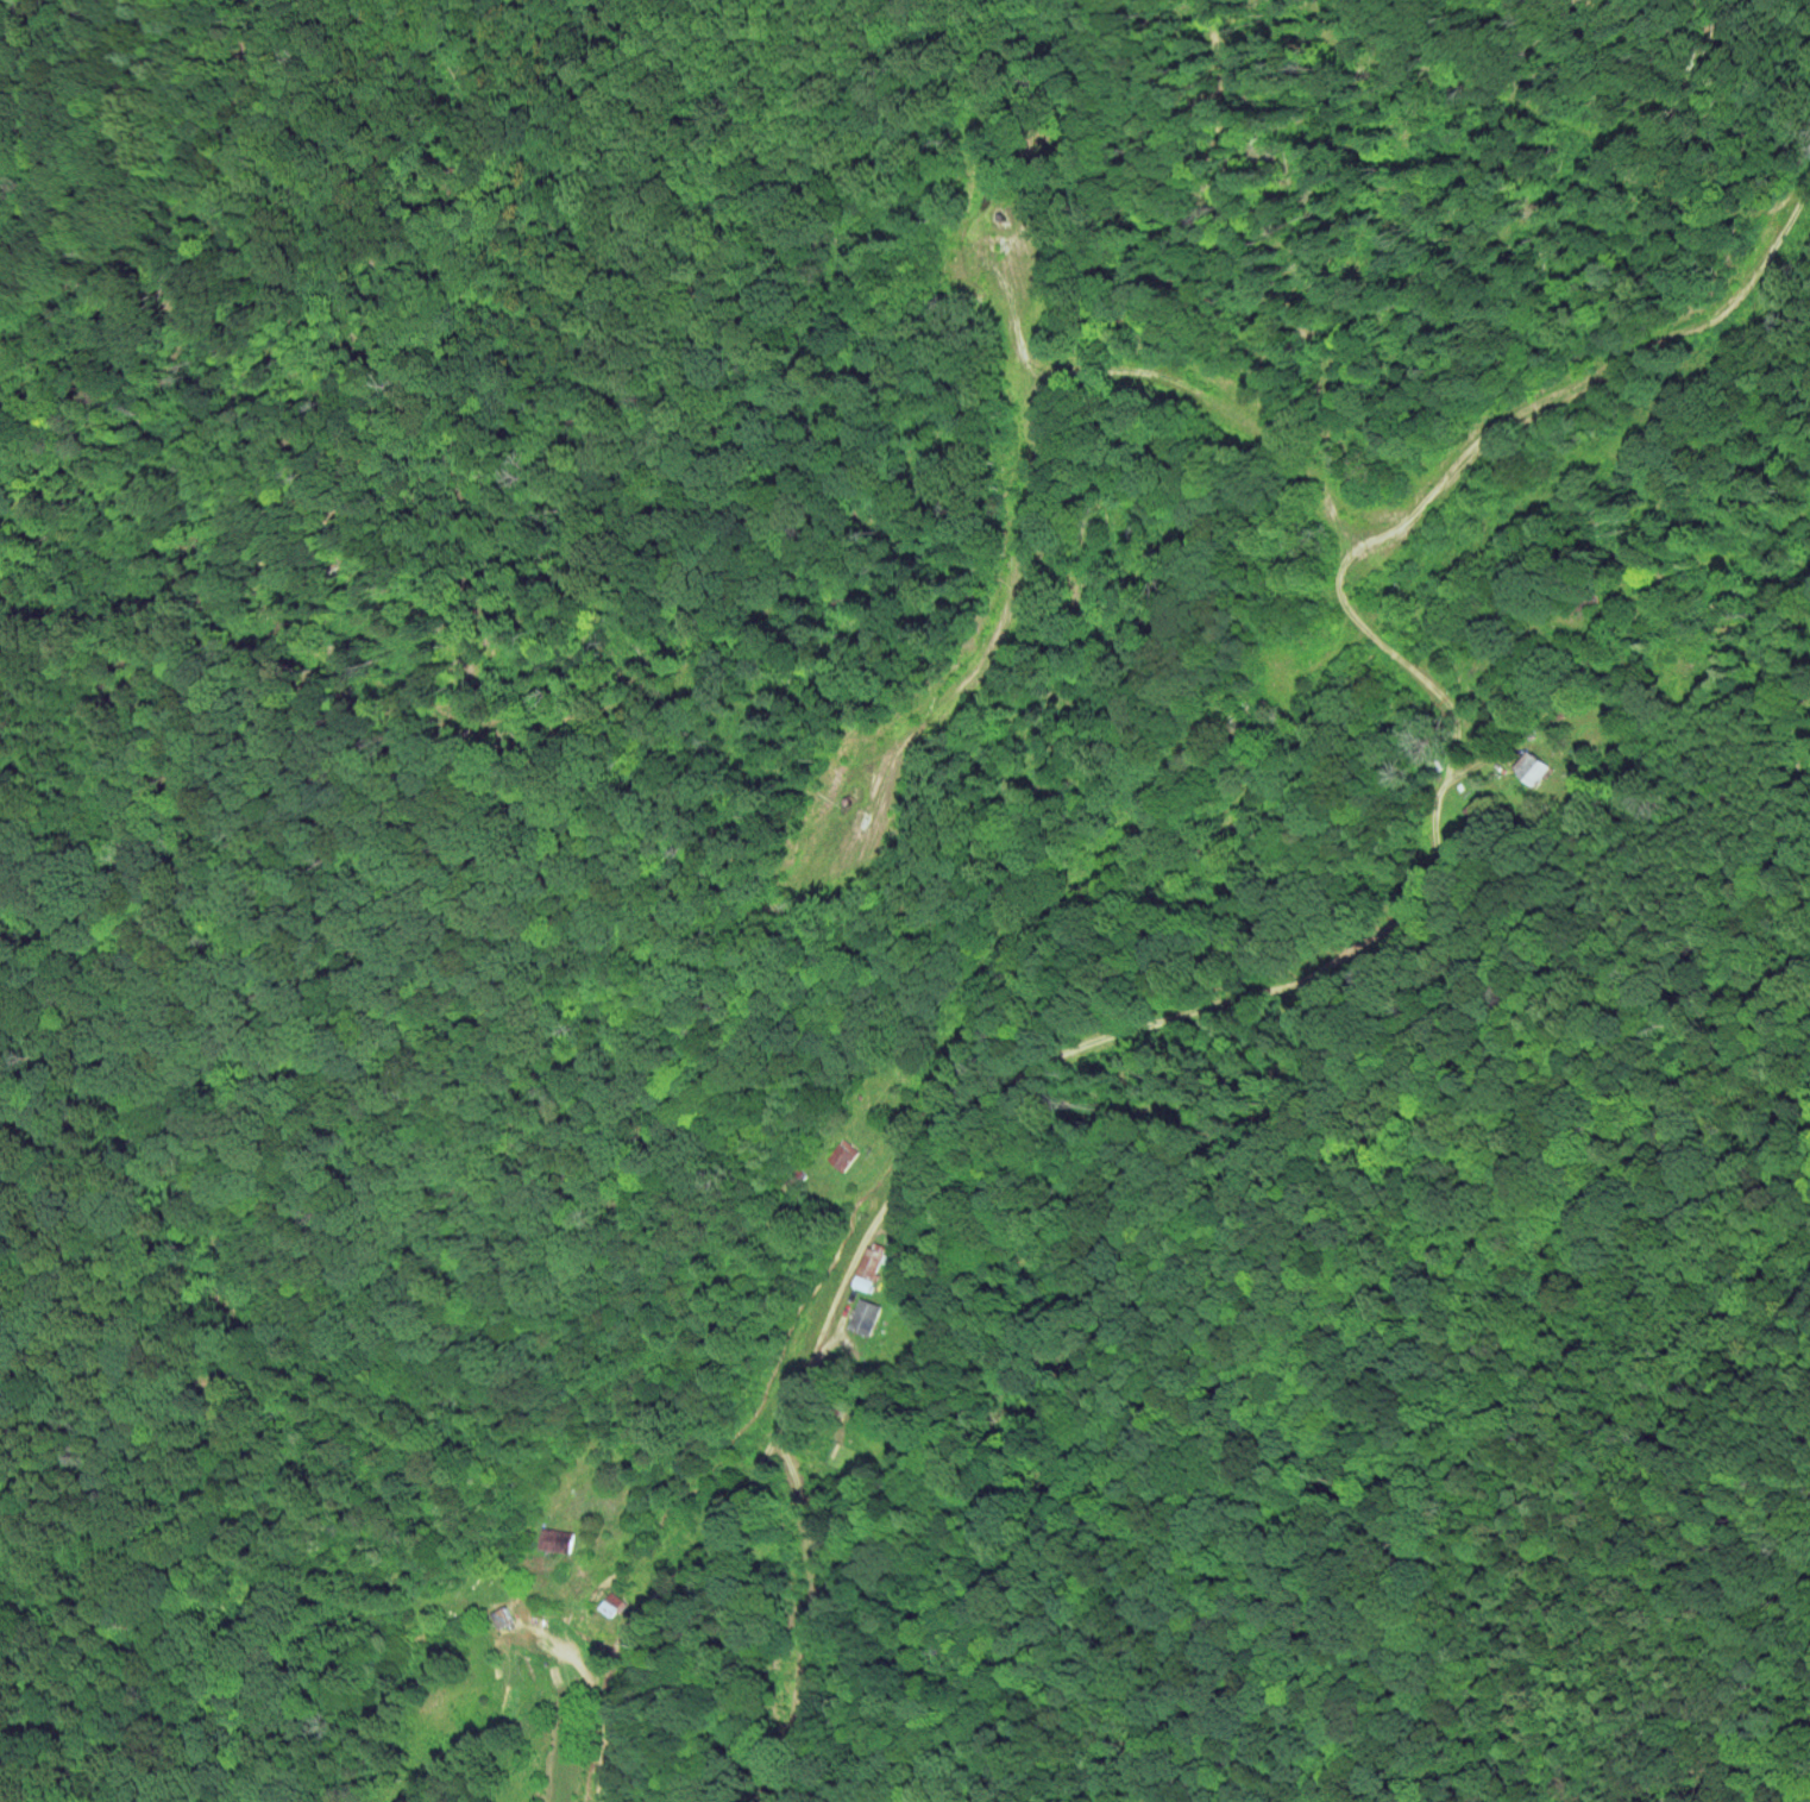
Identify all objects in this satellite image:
road: (1798, 206)
building: (1531, 767)
building: (843, 1154)
road: (922, 1172)
building: (865, 1317)
building: (557, 1539)

